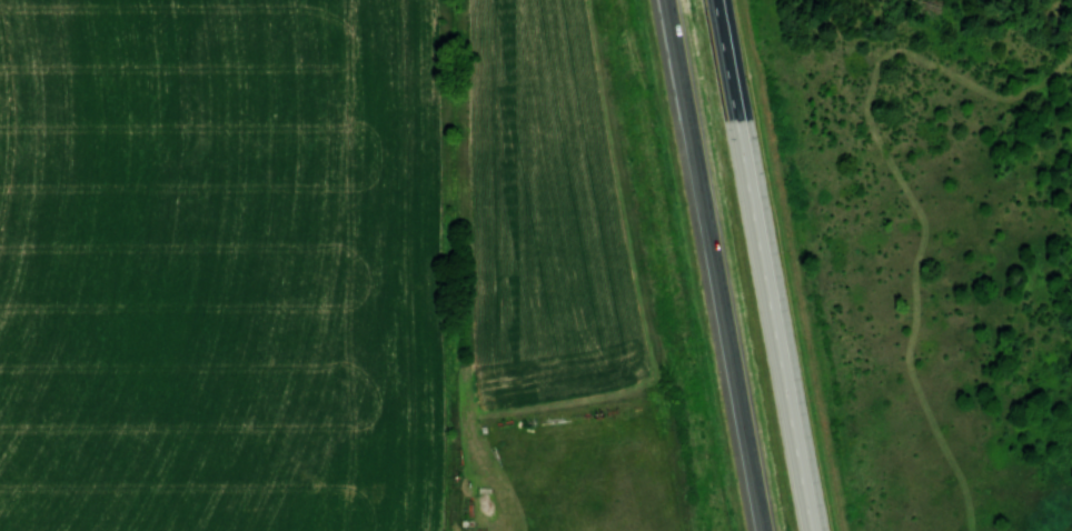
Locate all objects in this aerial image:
park: (915, 251)
road: (762, 265)

